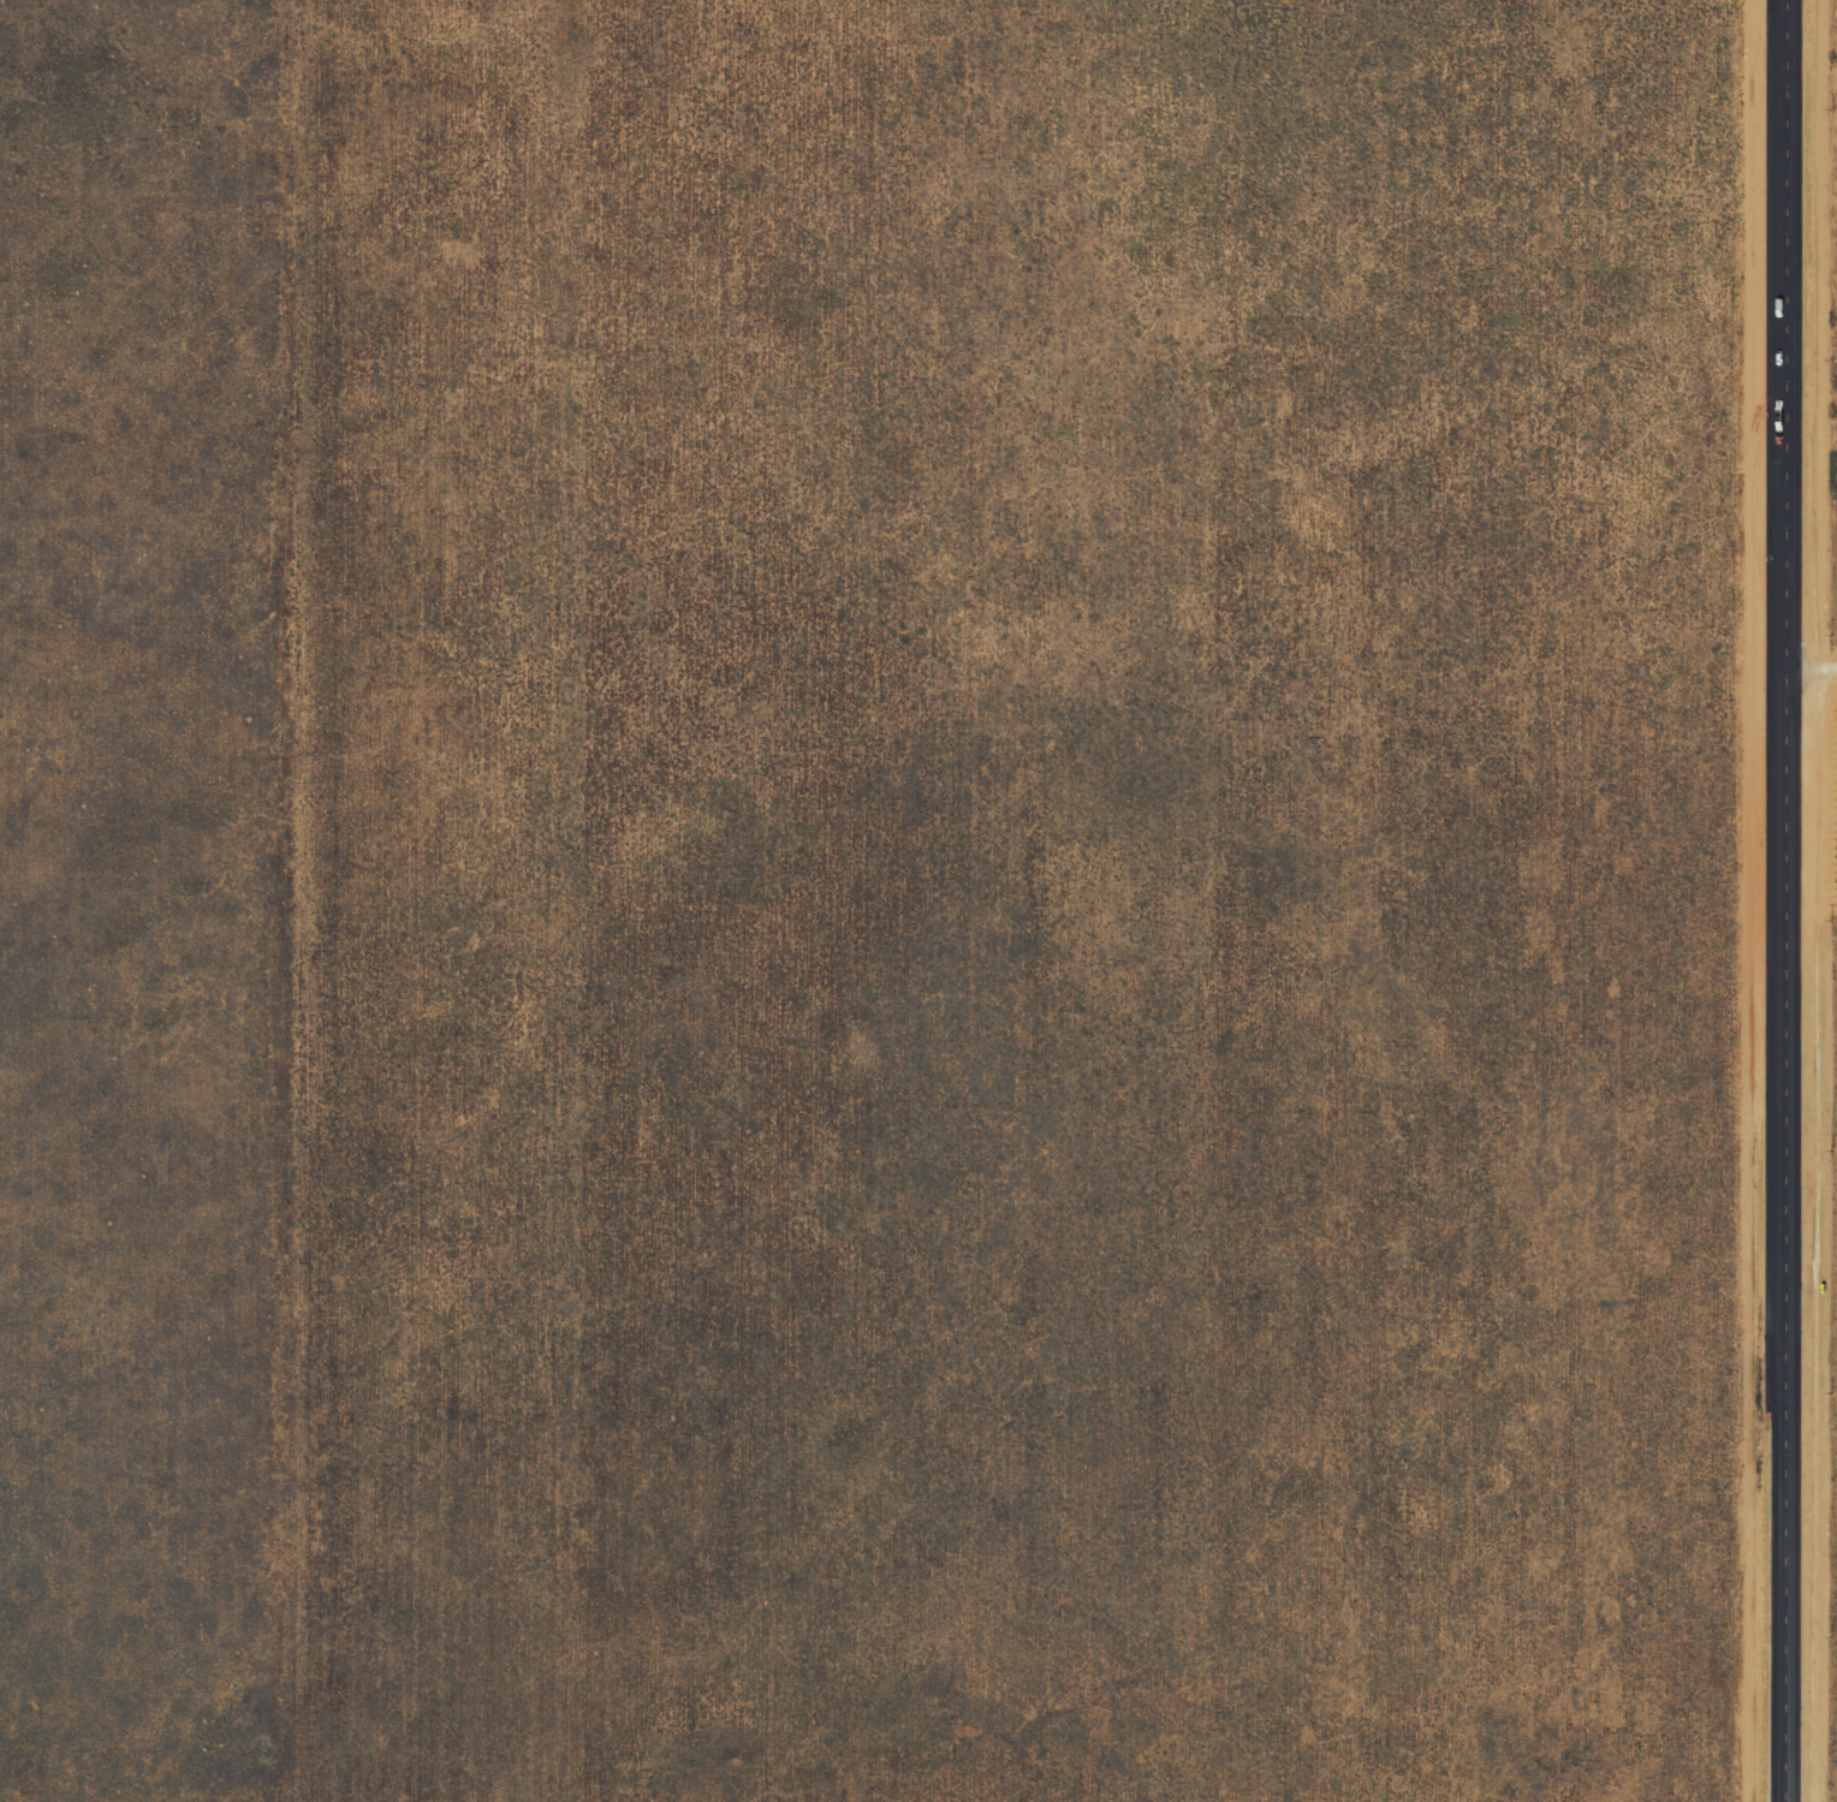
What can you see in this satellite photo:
road: (1812, 291)
road: (1787, 900)

